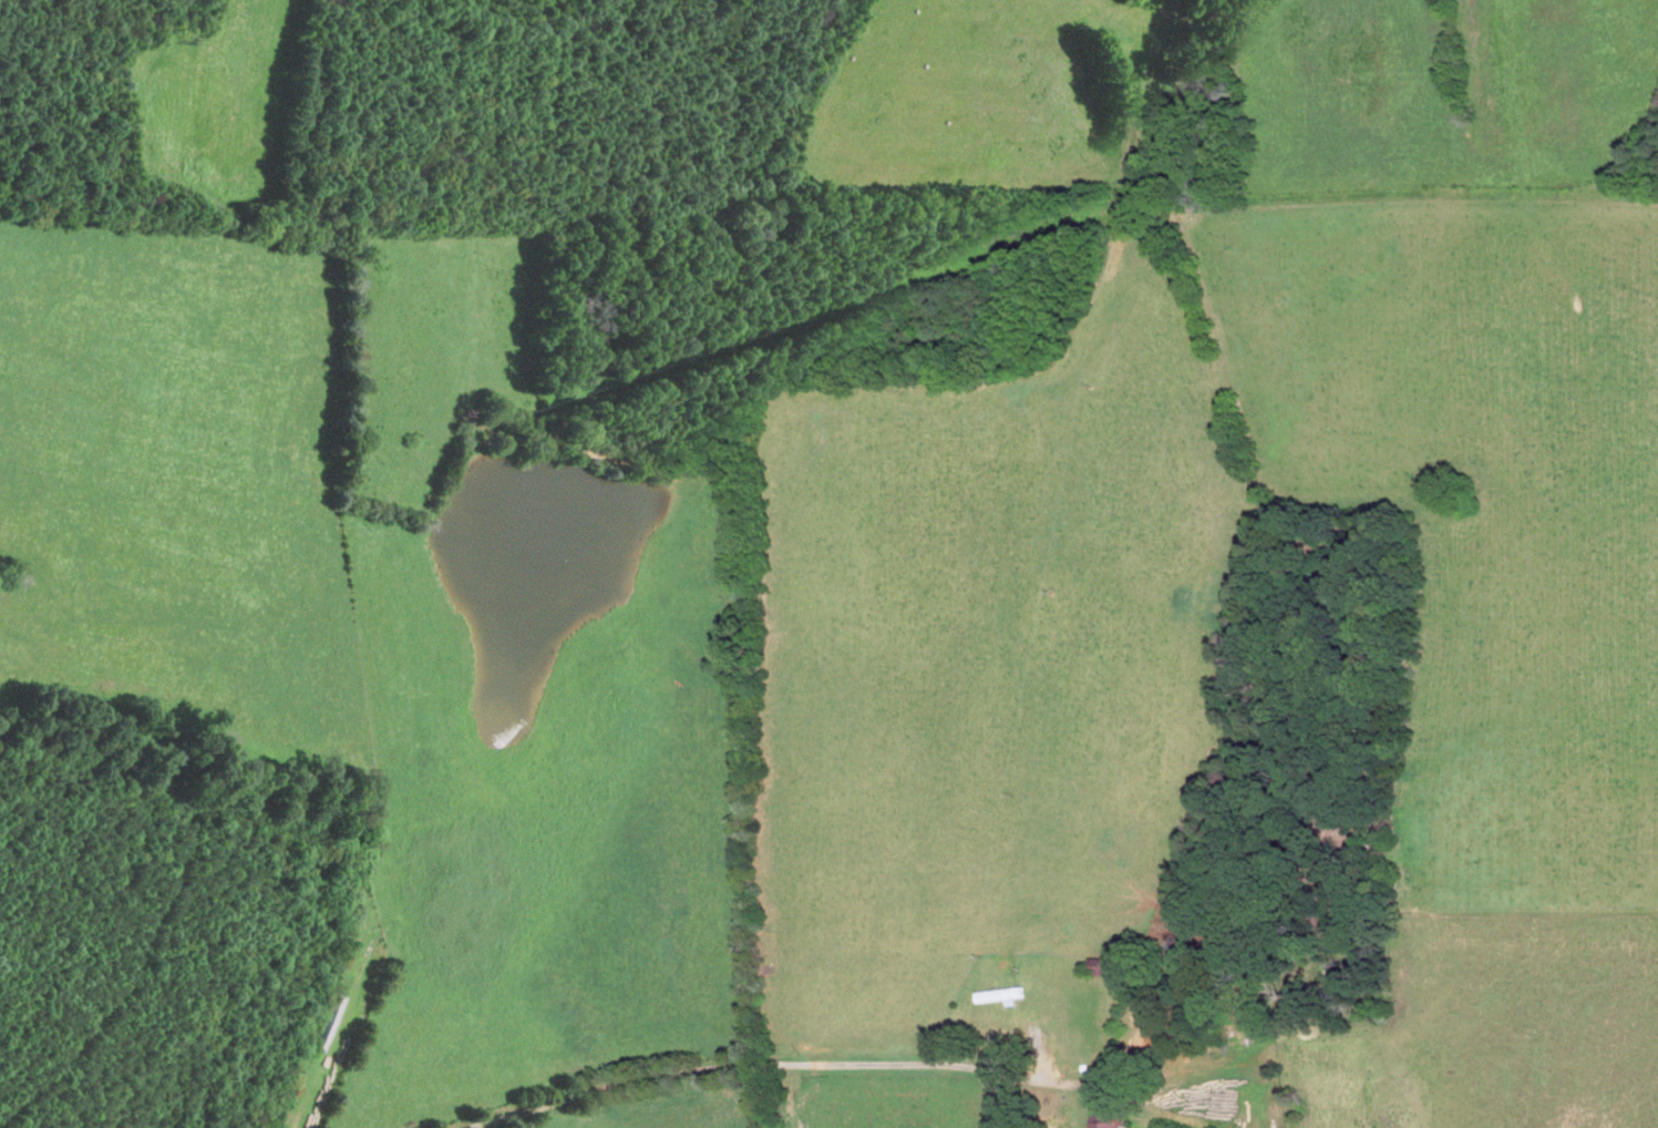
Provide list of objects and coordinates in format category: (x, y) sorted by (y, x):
building: (1109, 965)
building: (1002, 994)
road: (785, 1060)
building: (1109, 1124)

